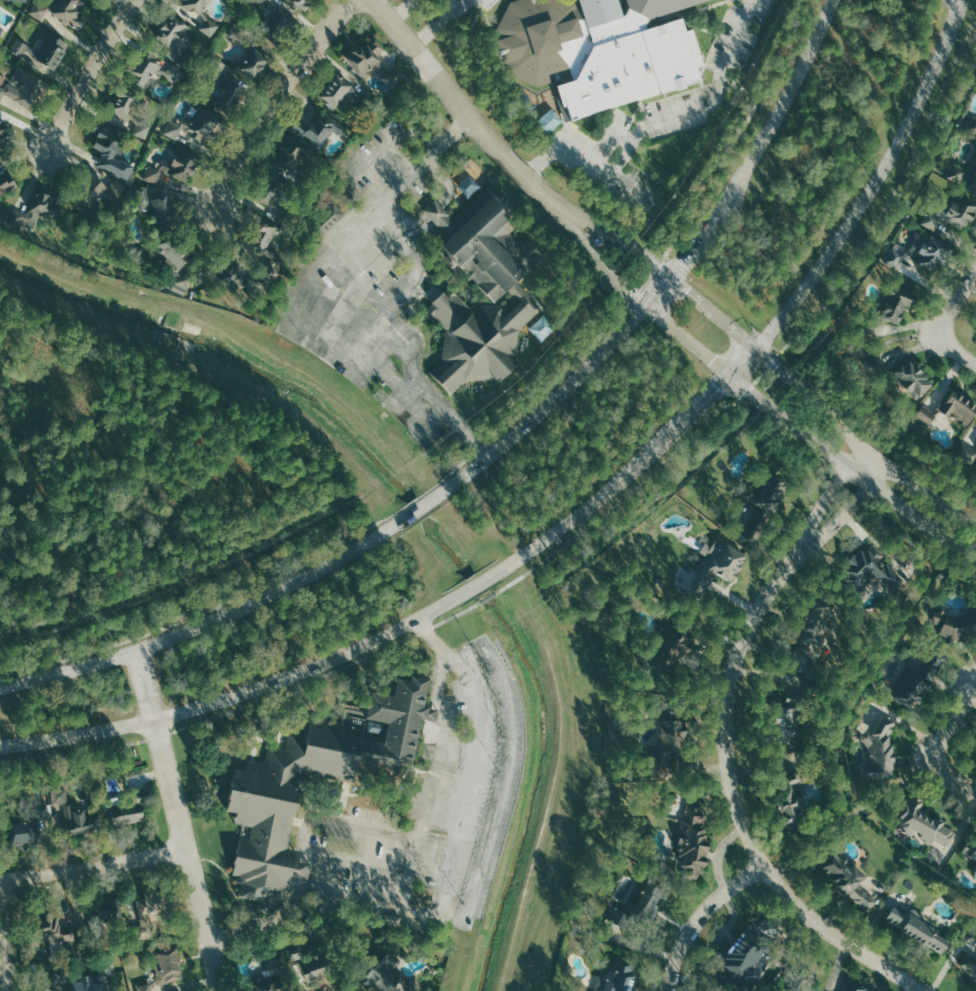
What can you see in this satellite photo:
building: (22, 0)
building: (301, 3)
parking lot: (481, 3)
road: (959, 4)
building: (60, 9)
road: (402, 10)
building: (204, 16)
building: (278, 22)
road: (438, 24)
building: (1, 29)
road: (956, 33)
building: (174, 38)
road: (815, 38)
building: (43, 47)
building: (256, 53)
building: (592, 53)
building: (372, 61)
building: (150, 69)
road: (88, 74)
building: (24, 87)
building: (224, 90)
road: (449, 91)
building: (347, 94)
road: (275, 100)
building: (130, 111)
parking lot: (661, 116)
road: (654, 121)
building: (196, 127)
building: (974, 128)
building: (323, 130)
building: (4, 132)
road: (737, 133)
building: (110, 149)
building: (294, 162)
building: (172, 167)
building: (965, 175)
building: (7, 182)
building: (467, 188)
building: (91, 189)
road: (893, 194)
building: (274, 197)
building: (37, 206)
building: (157, 208)
building: (952, 214)
building: (329, 219)
road: (599, 226)
road: (584, 243)
building: (263, 244)
building: (921, 252)
building: (175, 260)
road: (655, 271)
building: (233, 274)
traffic signals: (670, 276)
parking lot: (375, 282)
road: (406, 285)
building: (518, 292)
road: (957, 302)
traffic signals: (646, 304)
building: (897, 304)
road: (820, 342)
road: (877, 345)
road: (957, 348)
traffic signals: (756, 350)
building: (878, 366)
traffic signals: (729, 376)
road: (759, 376)
road: (560, 378)
building: (914, 379)
road: (759, 397)
road: (818, 404)
building: (961, 409)
building: (927, 415)
road: (872, 420)
road: (479, 449)
building: (966, 453)
road: (872, 467)
road: (468, 471)
building: (769, 489)
road: (926, 516)
road: (818, 517)
road: (594, 521)
road: (832, 528)
road: (558, 529)
building: (723, 567)
building: (870, 569)
road: (248, 593)
building: (955, 625)
building: (817, 626)
road: (425, 630)
building: (669, 649)
building: (912, 680)
road: (296, 686)
building: (790, 712)
road: (442, 719)
road: (951, 723)
road: (160, 735)
building: (668, 744)
building: (880, 746)
road: (72, 753)
road: (951, 775)
building: (262, 800)
parking lot: (449, 803)
building: (792, 803)
building: (76, 812)
building: (127, 812)
road: (740, 813)
road: (178, 821)
building: (924, 822)
building: (24, 832)
building: (694, 840)
building: (971, 849)
road: (93, 867)
road: (414, 872)
building: (851, 880)
building: (651, 900)
building: (149, 910)
building: (107, 911)
road: (699, 916)
building: (920, 929)
building: (59, 934)
road: (4, 937)
building: (274, 957)
building: (969, 963)
building: (169, 965)
building: (312, 968)
building: (110, 969)
building: (390, 976)
building: (621, 977)
building: (57, 980)
building: (268, 982)
building: (89, 984)
building: (856, 986)
building: (146, 987)
building: (41, 989)

